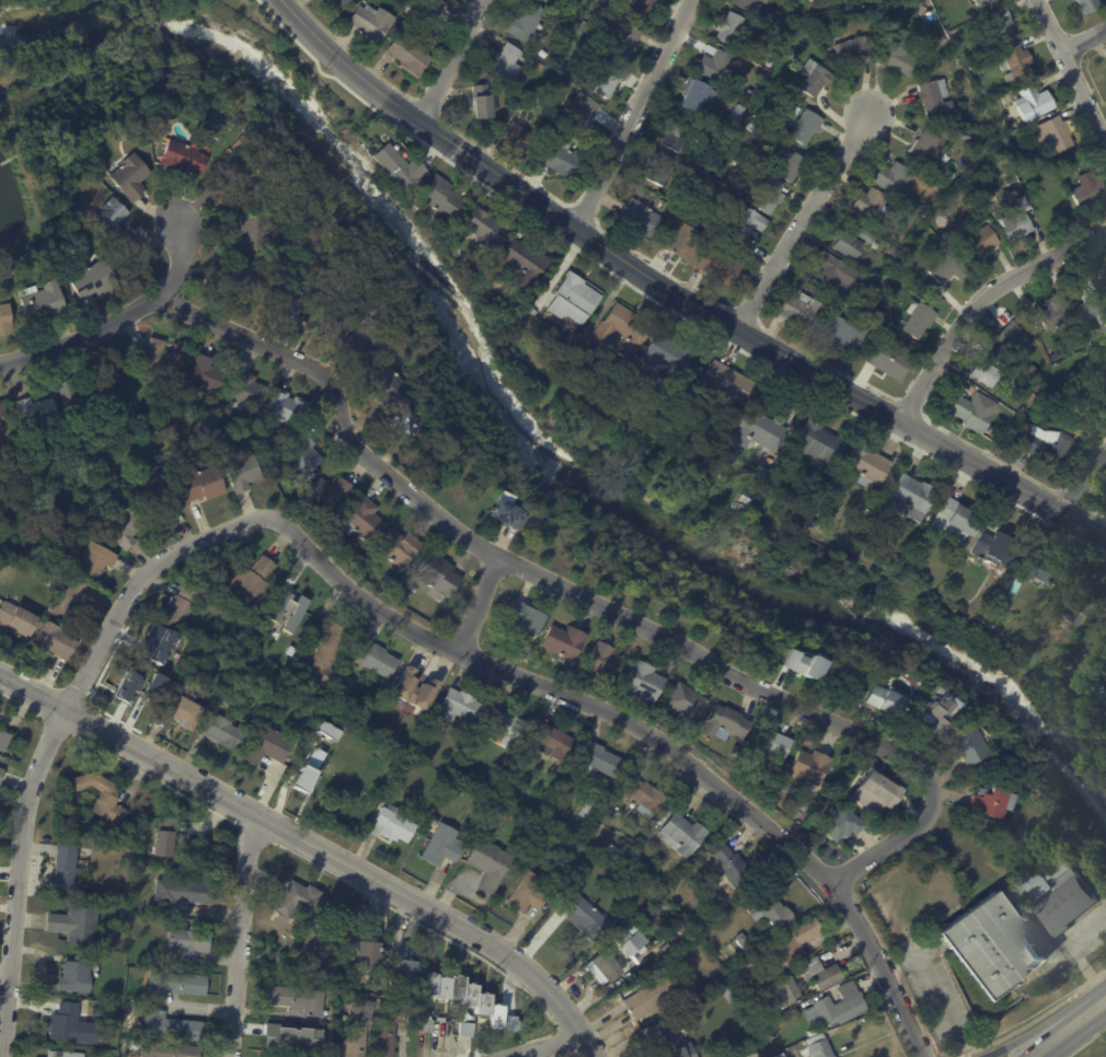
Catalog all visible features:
building: (388, 0)
building: (815, 0)
building: (1075, 0)
building: (341, 1)
building: (549, 1)
building: (347, 2)
building: (607, 4)
building: (749, 4)
building: (990, 4)
building: (1090, 7)
building: (614, 9)
building: (403, 10)
building: (643, 10)
building: (429, 11)
building: (372, 23)
building: (528, 25)
building: (1003, 26)
building: (884, 27)
building: (735, 30)
road: (1082, 36)
building: (624, 40)
building: (853, 51)
building: (900, 55)
building: (411, 57)
building: (797, 58)
road: (448, 60)
building: (507, 63)
building: (1017, 63)
building: (770, 65)
building: (716, 67)
road: (1070, 72)
building: (817, 78)
building: (606, 82)
building: (936, 97)
building: (702, 100)
building: (1038, 101)
building: (543, 102)
building: (484, 104)
road: (633, 114)
building: (740, 115)
building: (581, 116)
building: (123, 125)
building: (735, 128)
building: (756, 128)
building: (807, 128)
building: (680, 135)
building: (1055, 138)
building: (522, 140)
building: (1010, 143)
building: (925, 148)
building: (761, 154)
building: (181, 155)
building: (563, 161)
building: (736, 162)
building: (791, 162)
building: (399, 167)
building: (663, 171)
building: (1065, 171)
building: (129, 175)
building: (244, 177)
building: (953, 177)
building: (894, 179)
building: (928, 182)
building: (1090, 191)
building: (442, 197)
building: (772, 197)
building: (726, 198)
building: (661, 205)
building: (869, 205)
building: (921, 209)
building: (1059, 211)
building: (930, 216)
building: (747, 221)
road: (803, 221)
building: (647, 222)
building: (113, 223)
building: (1019, 223)
building: (488, 230)
building: (254, 232)
building: (852, 242)
building: (980, 242)
building: (684, 243)
building: (728, 246)
building: (331, 258)
building: (526, 262)
building: (719, 268)
building: (951, 270)
building: (511, 272)
building: (837, 274)
building: (235, 276)
building: (1104, 277)
building: (90, 279)
road: (676, 289)
building: (868, 289)
building: (576, 299)
road: (977, 299)
building: (288, 301)
building: (1088, 301)
building: (42, 302)
building: (800, 311)
building: (1053, 314)
building: (5, 318)
building: (329, 320)
road: (119, 321)
building: (920, 322)
building: (1105, 329)
building: (622, 332)
building: (844, 336)
building: (1013, 339)
building: (367, 346)
building: (994, 356)
building: (165, 358)
building: (892, 362)
building: (659, 363)
building: (987, 373)
building: (208, 374)
building: (727, 383)
building: (388, 384)
building: (245, 391)
building: (1098, 393)
building: (78, 398)
building: (288, 408)
building: (36, 413)
building: (972, 414)
building: (3, 418)
building: (410, 425)
building: (713, 430)
building: (757, 432)
building: (223, 433)
building: (819, 441)
building: (1047, 445)
building: (641, 452)
building: (442, 456)
building: (304, 457)
building: (867, 465)
building: (244, 473)
road: (1083, 480)
building: (199, 483)
building: (706, 483)
building: (503, 487)
building: (158, 493)
building: (331, 495)
building: (912, 498)
building: (508, 514)
building: (316, 519)
building: (958, 520)
building: (365, 521)
building: (816, 522)
building: (126, 528)
building: (400, 547)
building: (996, 549)
building: (96, 560)
building: (1048, 565)
building: (439, 578)
building: (50, 580)
building: (253, 581)
building: (414, 589)
road: (477, 604)
road: (589, 604)
building: (1081, 606)
building: (181, 607)
building: (51, 609)
building: (287, 609)
building: (18, 619)
building: (530, 619)
building: (171, 640)
building: (56, 641)
building: (566, 642)
building: (327, 655)
building: (377, 659)
building: (607, 662)
building: (800, 664)
building: (149, 666)
building: (1090, 676)
building: (647, 682)
building: (416, 689)
building: (885, 699)
building: (234, 700)
building: (688, 704)
building: (459, 706)
building: (936, 710)
building: (184, 711)
building: (146, 713)
building: (727, 724)
building: (507, 728)
building: (324, 730)
building: (226, 733)
road: (644, 733)
road: (50, 734)
building: (4, 741)
building: (554, 742)
building: (422, 745)
building: (772, 745)
building: (972, 745)
building: (269, 746)
building: (463, 746)
building: (736, 752)
building: (469, 759)
building: (600, 762)
building: (813, 768)
building: (1, 775)
building: (1027, 775)
building: (314, 778)
building: (398, 785)
building: (394, 792)
building: (505, 793)
building: (879, 793)
building: (100, 794)
building: (644, 795)
building: (563, 799)
building: (993, 802)
building: (807, 808)
building: (589, 810)
building: (130, 821)
building: (844, 825)
building: (393, 826)
building: (683, 836)
building: (165, 837)
road: (314, 846)
building: (443, 847)
building: (491, 864)
building: (68, 866)
building: (735, 871)
building: (184, 891)
building: (1057, 893)
building: (529, 894)
building: (300, 901)
building: (769, 909)
building: (586, 917)
building: (76, 924)
road: (244, 936)
building: (742, 942)
building: (189, 943)
building: (265, 943)
building: (991, 945)
building: (632, 946)
building: (793, 946)
building: (370, 948)
building: (609, 968)
building: (77, 974)
building: (403, 974)
building: (823, 974)
building: (176, 984)
building: (790, 991)
building: (733, 995)
building: (468, 997)
building: (652, 997)
building: (352, 998)
building: (298, 999)
building: (750, 1002)
building: (843, 1007)
road: (1035, 1019)
road: (1046, 1024)
building: (72, 1025)
building: (172, 1026)
building: (447, 1026)
building: (360, 1027)
building: (389, 1027)
road: (1071, 1029)
building: (295, 1039)
road: (545, 1045)
building: (678, 1046)
building: (170, 1049)
building: (823, 1049)
building: (65, 1054)
building: (748, 1055)
building: (756, 1056)

